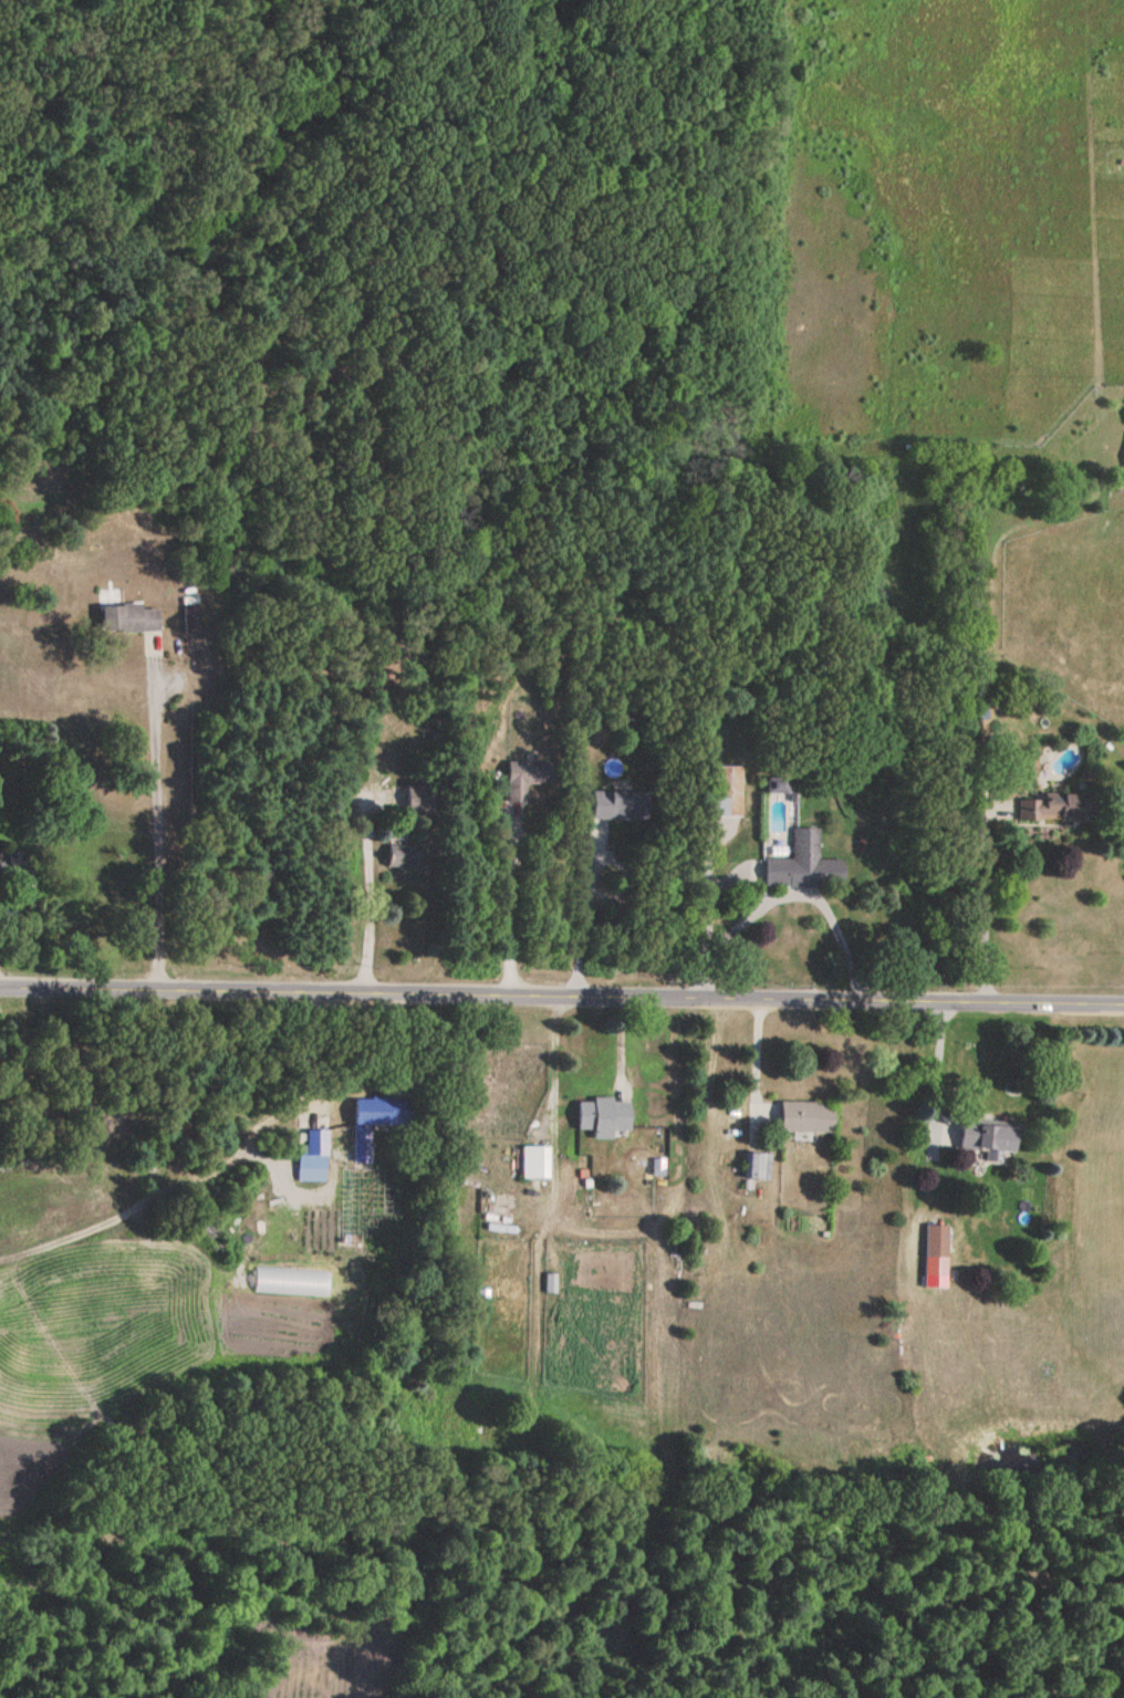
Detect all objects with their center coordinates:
building: (129, 621)
building: (527, 782)
building: (728, 794)
building: (419, 804)
building: (616, 806)
building: (1055, 810)
road: (160, 819)
building: (406, 858)
building: (803, 867)
building: (1, 868)
road: (783, 890)
road: (367, 898)
road: (982, 905)
road: (509, 909)
road: (583, 910)
road: (561, 1003)
road: (553, 1066)
road: (754, 1071)
road: (943, 1073)
building: (382, 1114)
building: (604, 1119)
building: (806, 1119)
building: (987, 1138)
building: (314, 1143)
building: (534, 1165)
building: (758, 1168)
building: (936, 1244)

